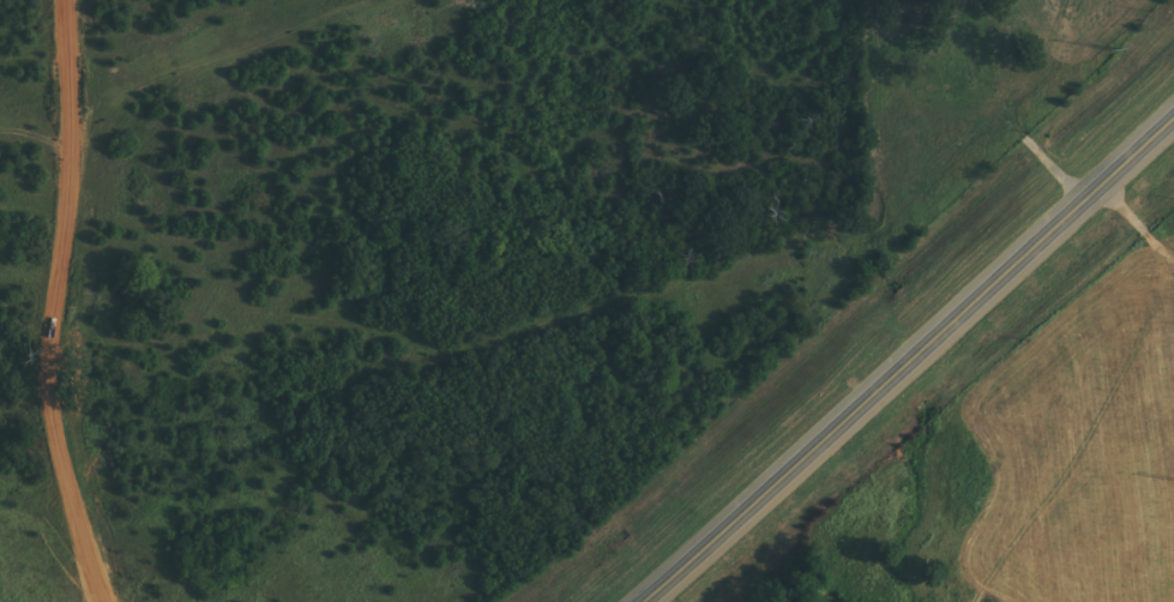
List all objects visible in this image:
power tower: (1108, 46)
road: (908, 361)

